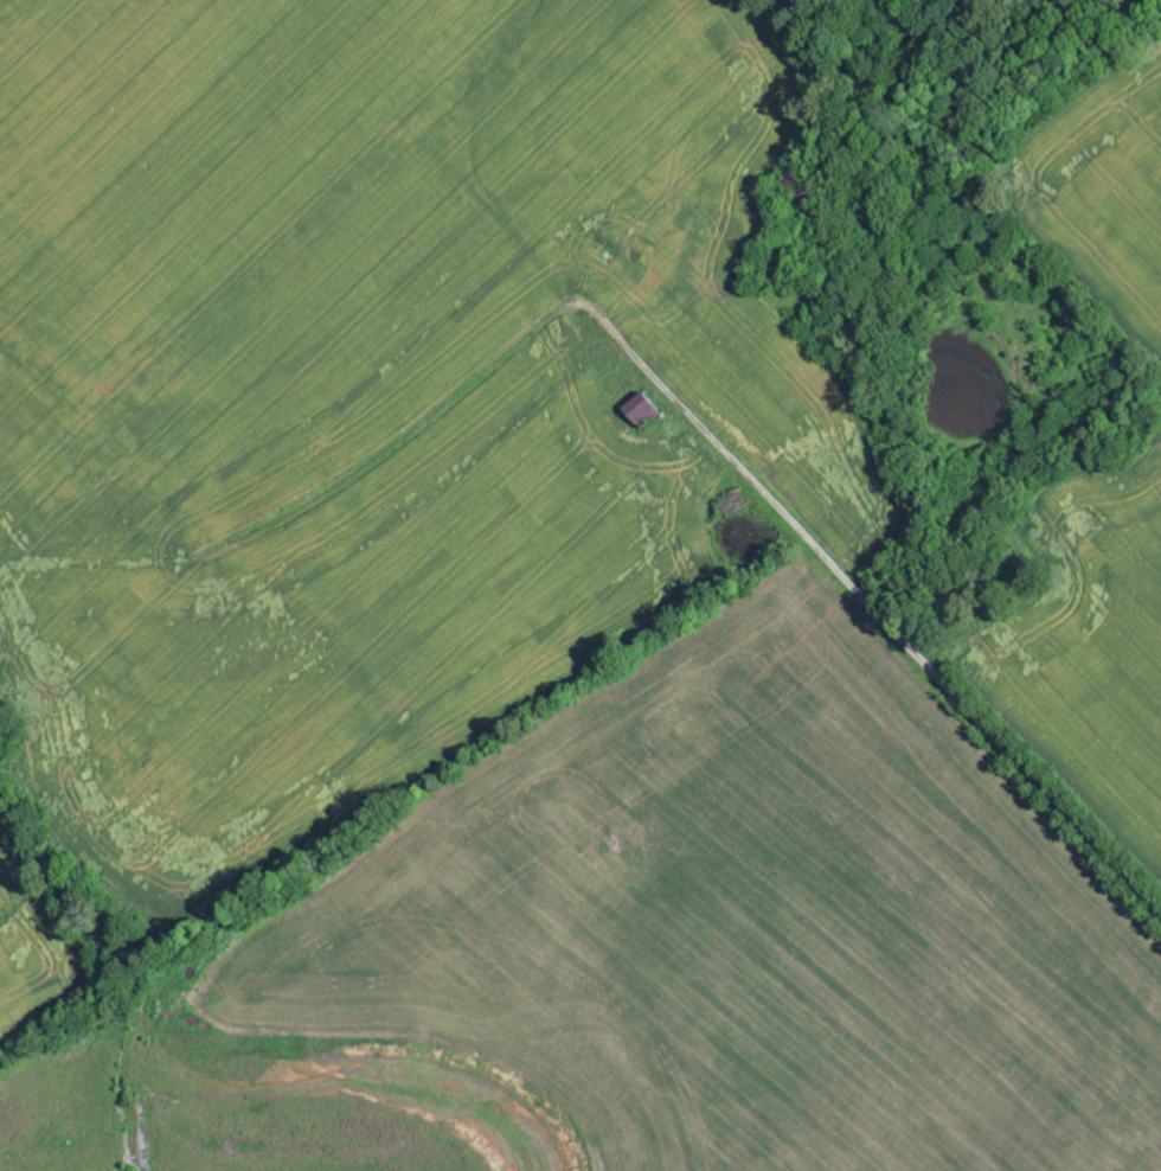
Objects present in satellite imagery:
building: (642, 412)
road: (870, 614)
road: (1140, 901)

